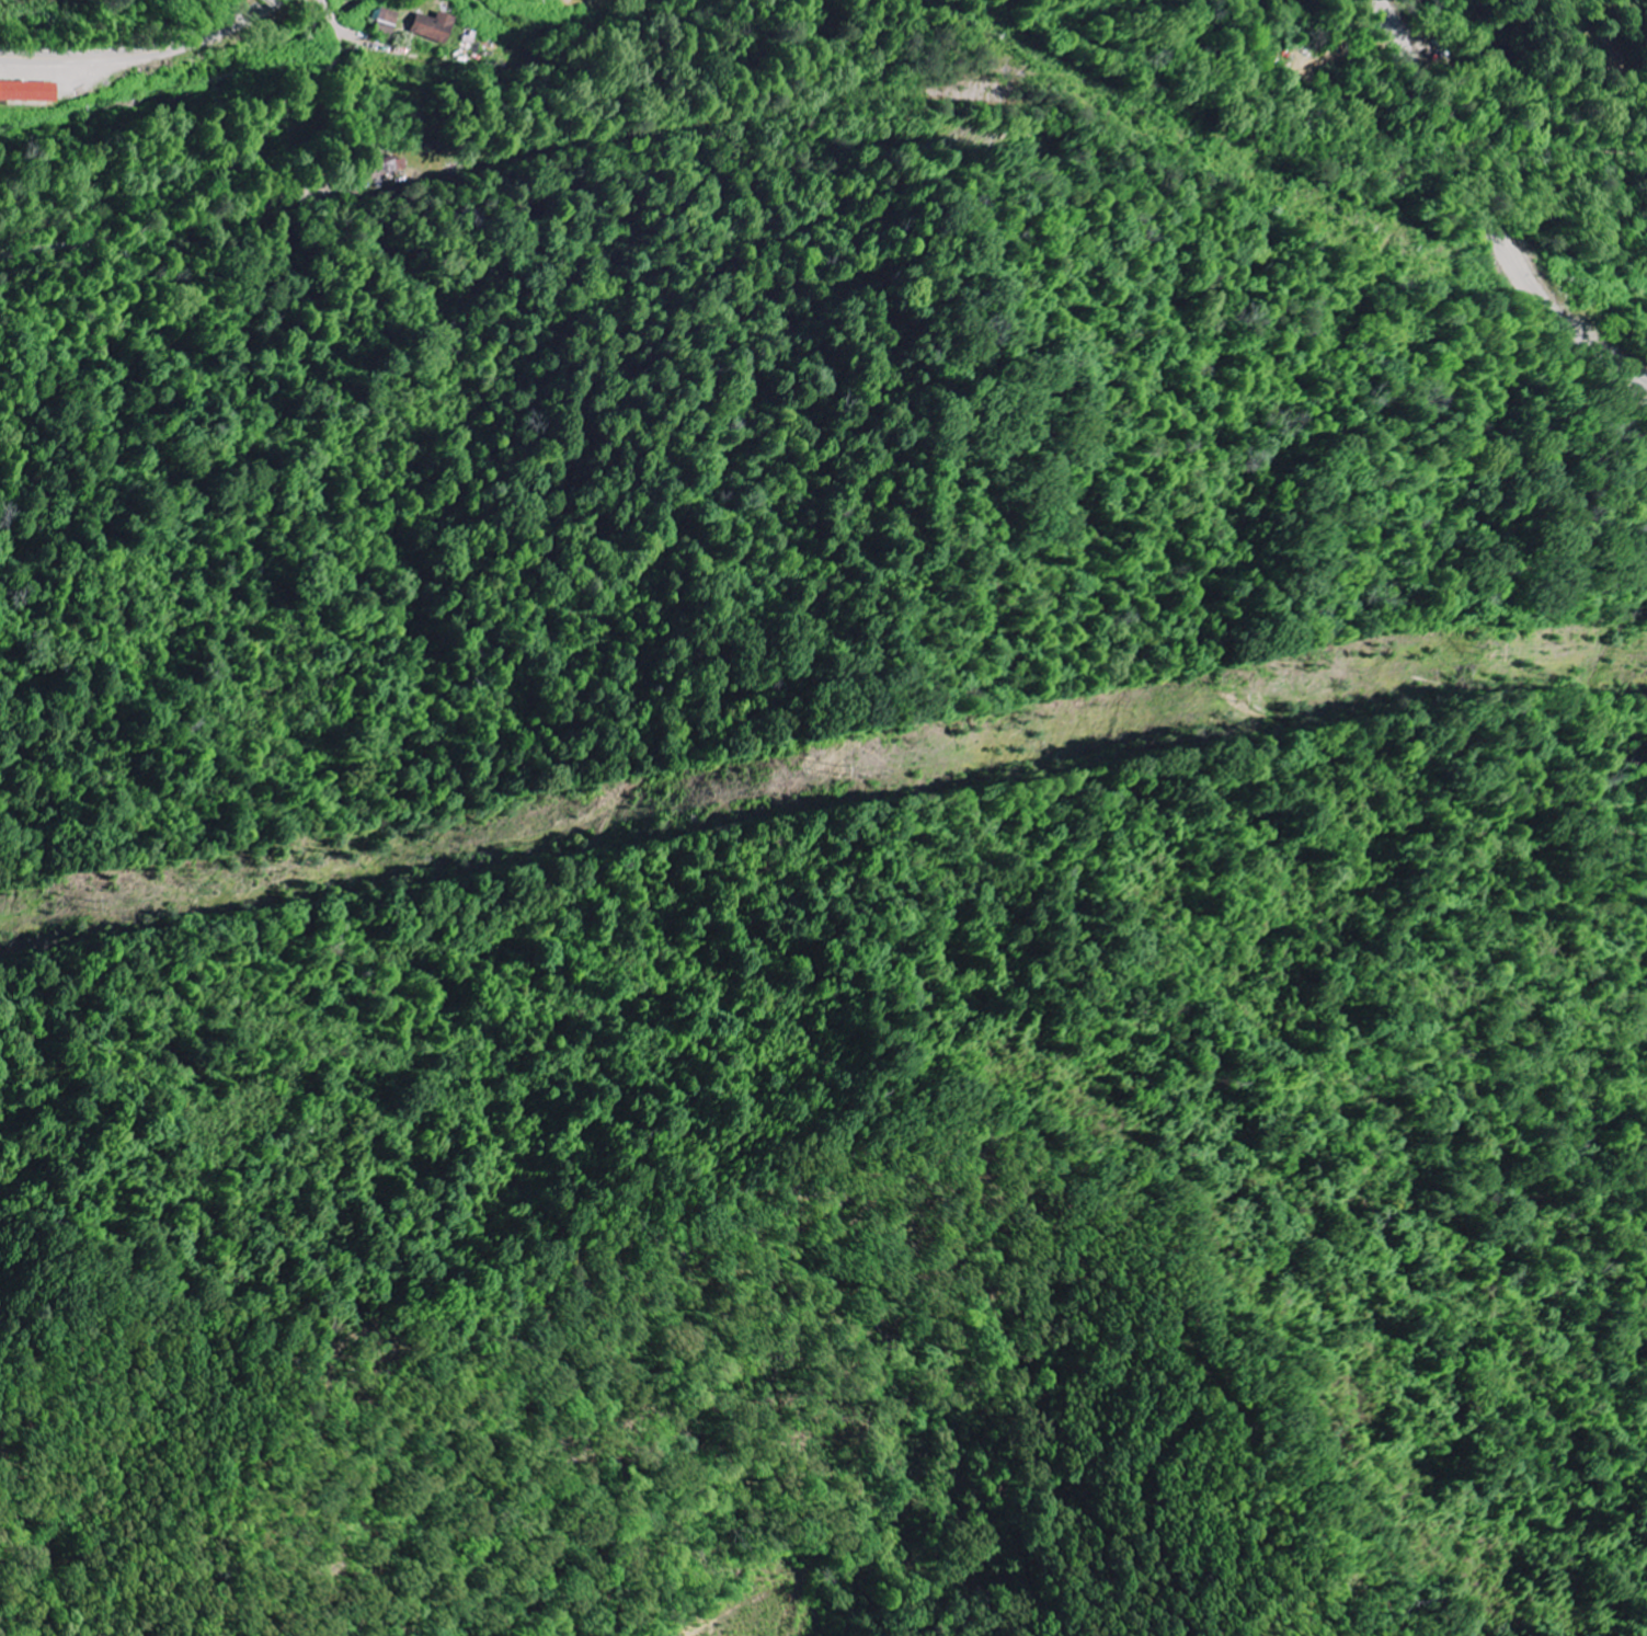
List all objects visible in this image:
road: (334, 21)
building: (391, 21)
building: (438, 27)
road: (142, 50)
building: (33, 93)
road: (1491, 213)

